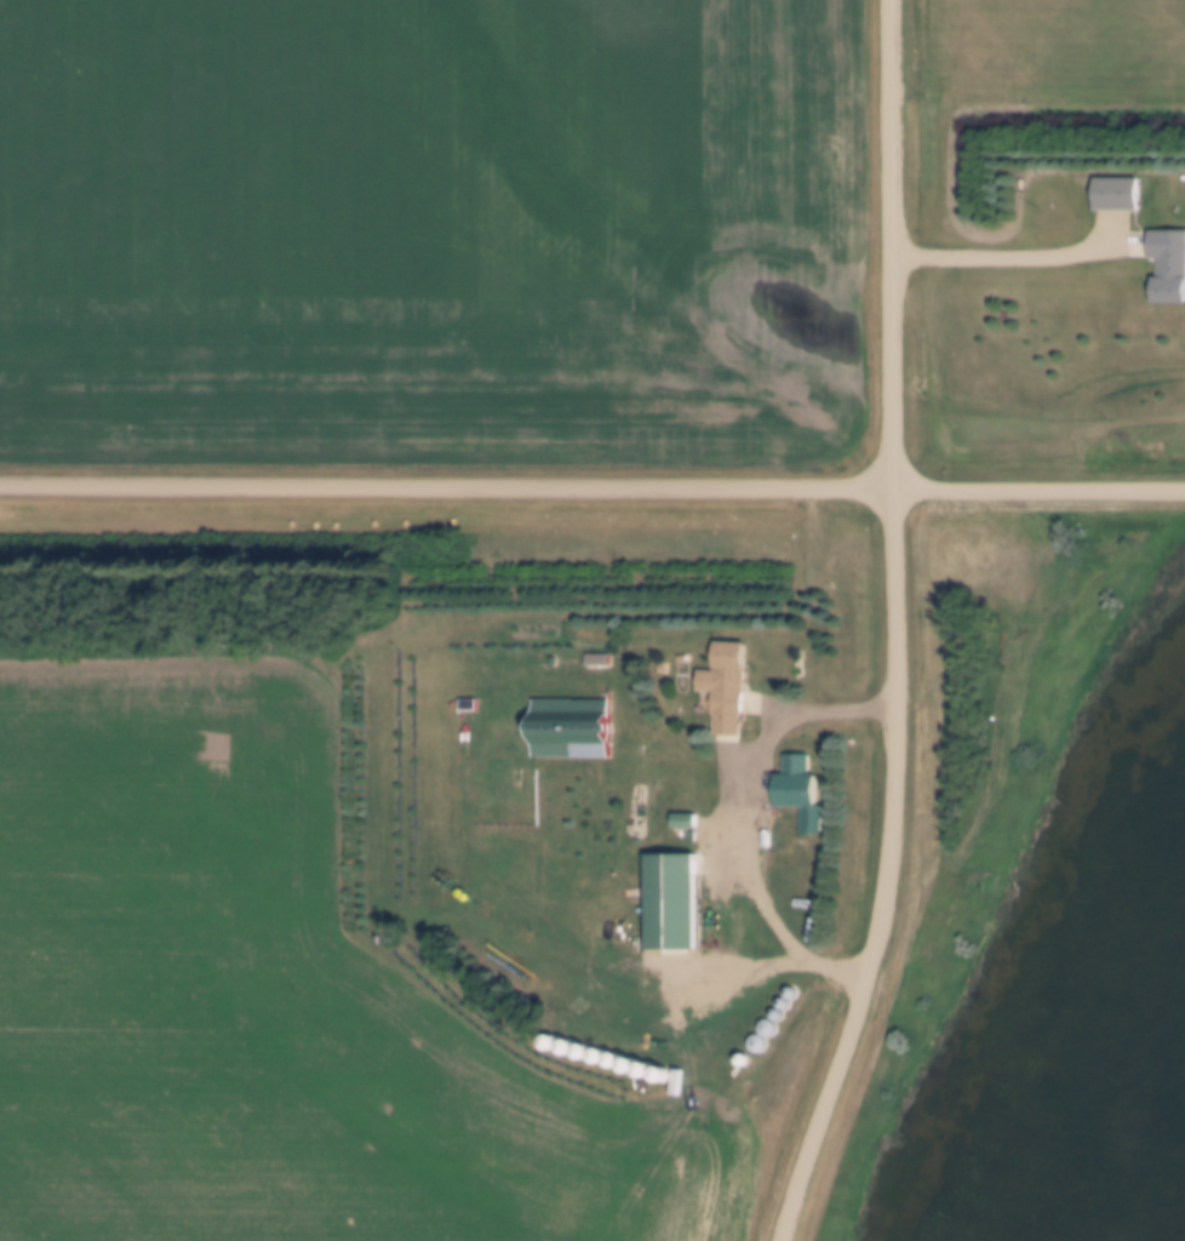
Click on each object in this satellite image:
building: (1116, 195)
road: (992, 253)
building: (1169, 267)
road: (591, 486)
road: (891, 628)
building: (727, 691)
road: (788, 715)
building: (580, 724)
building: (794, 785)
building: (671, 903)
road: (771, 916)

